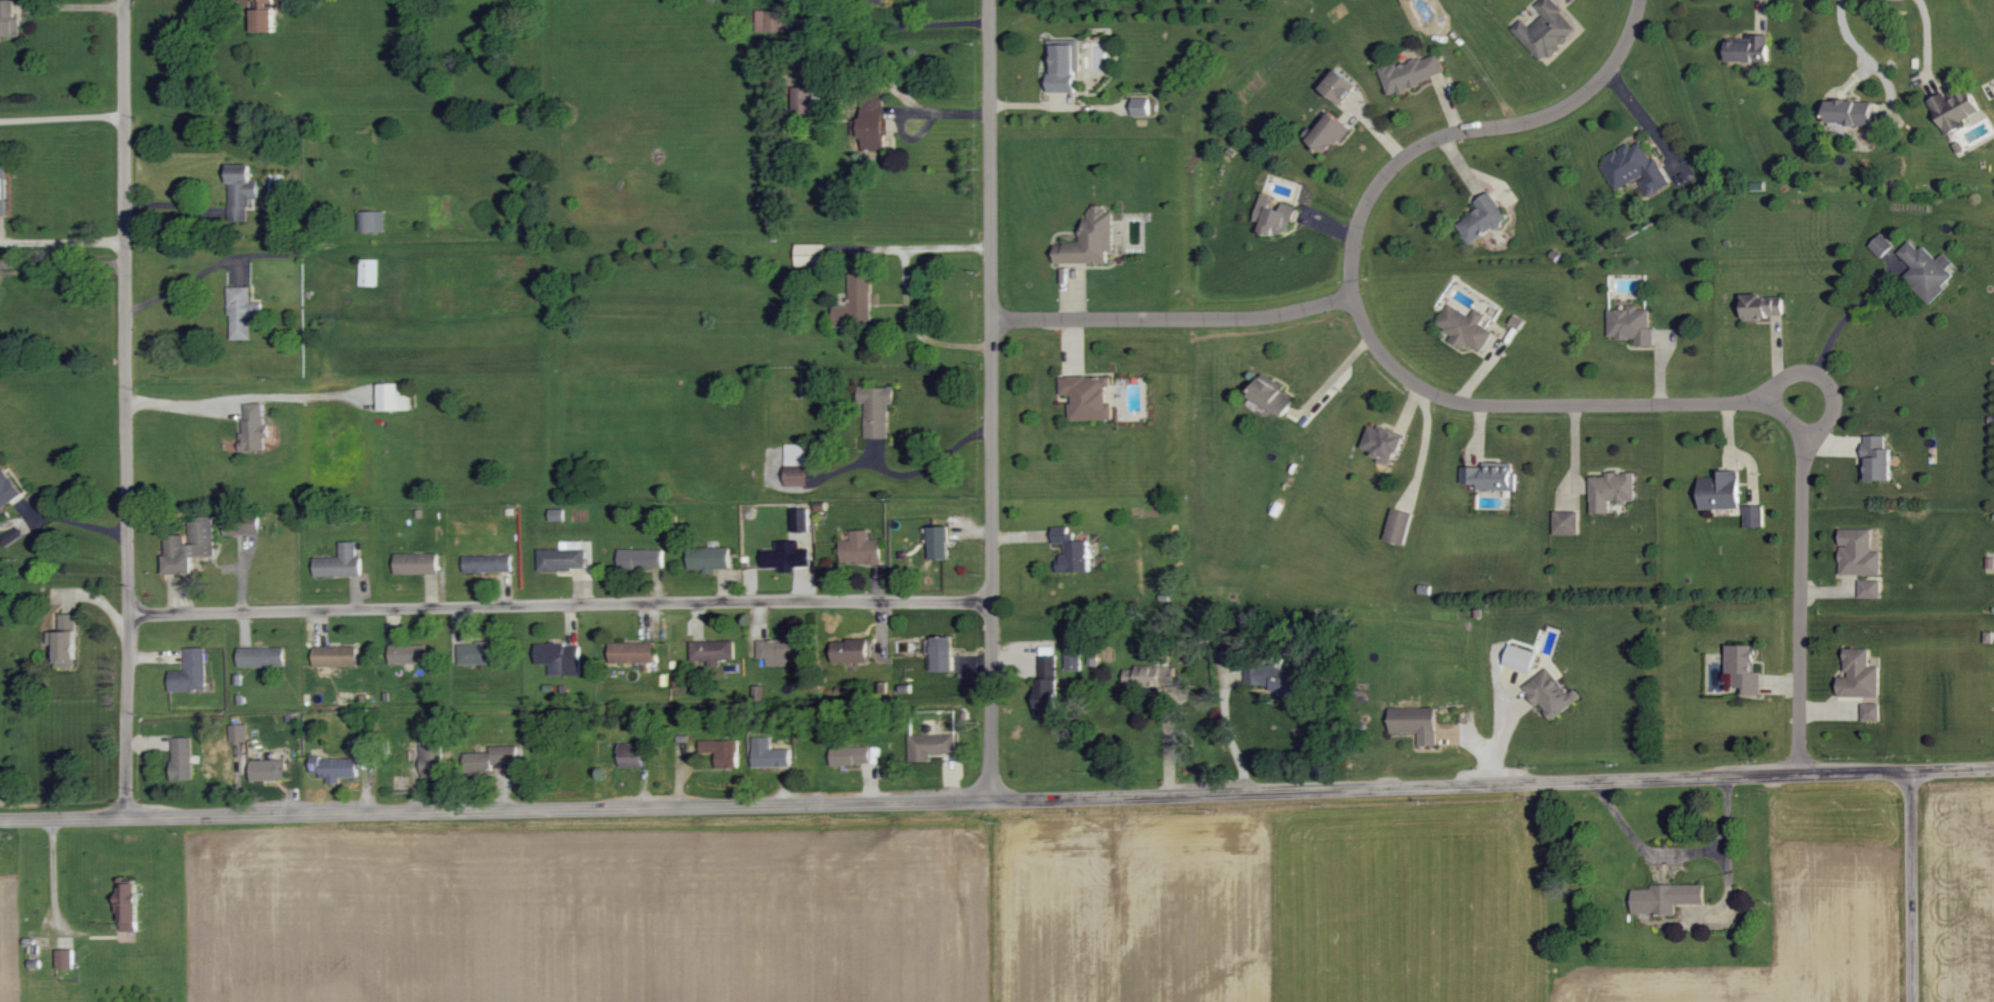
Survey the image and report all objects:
building: (872, 1)
road: (70, 7)
building: (262, 16)
building: (769, 21)
road: (916, 23)
building: (1547, 30)
building: (1750, 51)
road: (1866, 58)
building: (1063, 64)
building: (1413, 73)
building: (1338, 87)
building: (803, 90)
road: (903, 94)
building: (1141, 107)
building: (1850, 113)
building: (1962, 114)
road: (61, 115)
building: (872, 124)
road: (1469, 126)
building: (1329, 134)
building: (1634, 169)
building: (2, 190)
building: (276, 191)
building: (240, 193)
building: (1275, 216)
building: (1483, 219)
building: (372, 222)
building: (1090, 240)
road: (62, 243)
building: (810, 256)
building: (1917, 267)
building: (369, 273)
road: (180, 288)
road: (903, 288)
building: (856, 303)
building: (1764, 308)
building: (241, 313)
road: (1172, 316)
building: (1632, 326)
building: (1465, 328)
road: (1835, 330)
building: (393, 396)
road: (992, 397)
road: (242, 398)
building: (1088, 398)
building: (1272, 398)
road: (1553, 402)
road: (126, 409)
building: (876, 410)
building: (253, 427)
building: (1384, 447)
building: (796, 454)
building: (1877, 460)
road: (941, 464)
building: (796, 477)
building: (1491, 477)
building: (6, 489)
building: (1611, 491)
building: (1721, 492)
building: (556, 515)
building: (1754, 517)
building: (800, 519)
building: (1566, 523)
building: (241, 525)
building: (1399, 527)
building: (12, 536)
building: (940, 541)
building: (189, 546)
building: (861, 548)
building: (1072, 551)
building: (1859, 553)
building: (786, 556)
building: (563, 557)
building: (641, 558)
building: (709, 558)
building: (339, 562)
building: (415, 563)
building: (487, 563)
road: (1802, 588)
building: (1870, 588)
road: (560, 604)
building: (64, 641)
building: (781, 650)
building: (851, 650)
building: (712, 651)
building: (631, 652)
building: (477, 653)
building: (942, 653)
building: (407, 654)
building: (1074, 655)
building: (261, 656)
building: (334, 656)
building: (559, 657)
building: (1520, 657)
building: (1744, 667)
building: (190, 672)
building: (1859, 674)
building: (1150, 676)
building: (1276, 679)
building: (1551, 693)
building: (1045, 696)
building: (1872, 711)
building: (1416, 723)
road: (1226, 727)
building: (239, 732)
building: (930, 746)
building: (722, 752)
building: (768, 754)
building: (630, 755)
building: (850, 755)
building: (181, 758)
building: (489, 758)
building: (431, 759)
building: (338, 768)
building: (268, 770)
road: (1955, 771)
road: (1454, 784)
road: (496, 808)
road: (1677, 855)
road: (1916, 887)
building: (1666, 898)
building: (127, 907)
building: (64, 958)

